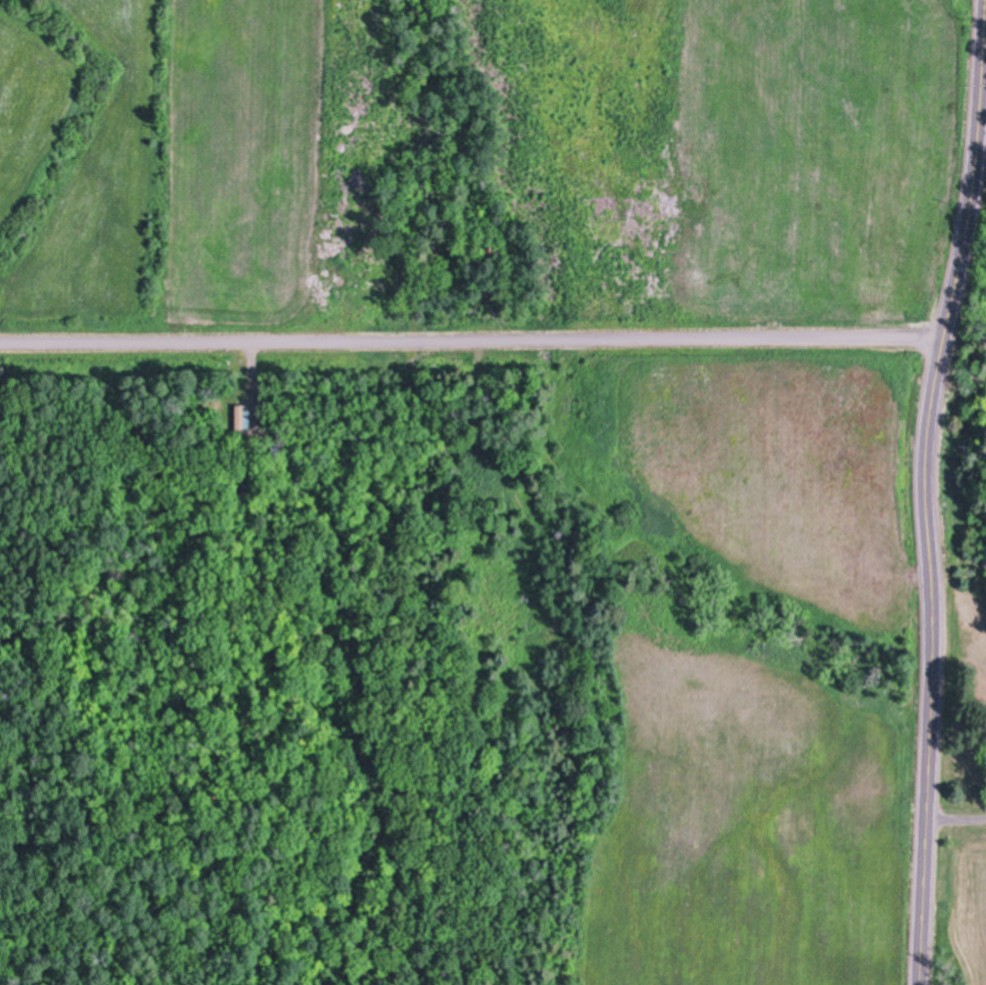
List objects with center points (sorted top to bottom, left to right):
road: (470, 340)
building: (244, 415)
road: (927, 490)
road: (957, 819)

